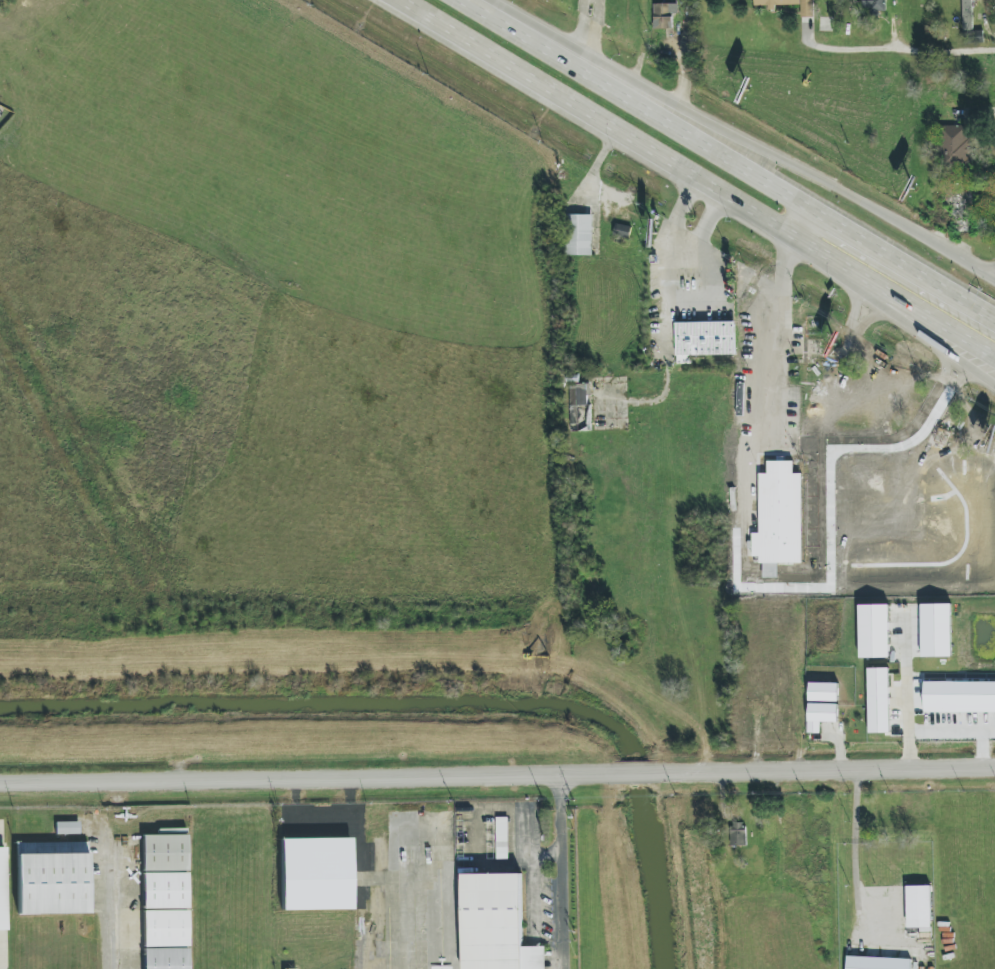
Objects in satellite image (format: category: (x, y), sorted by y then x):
building: (790, 5)
building: (875, 5)
building: (663, 16)
road: (585, 33)
road: (899, 46)
road: (677, 54)
road: (638, 106)
road: (600, 119)
road: (713, 125)
building: (957, 144)
road: (594, 168)
road: (707, 189)
road: (678, 211)
road: (707, 225)
road: (805, 226)
building: (622, 231)
building: (579, 235)
road: (825, 255)
road: (977, 266)
road: (903, 267)
road: (682, 272)
road: (924, 314)
road: (924, 325)
road: (782, 337)
building: (783, 392)
building: (579, 394)
building: (580, 418)
building: (786, 429)
building: (779, 515)
building: (874, 631)
building: (823, 692)
road: (907, 695)
building: (879, 700)
building: (821, 716)
road: (960, 732)
road: (822, 770)
road: (632, 773)
road: (307, 778)
building: (67, 828)
building: (172, 831)
building: (738, 834)
building: (502, 838)
airport hangar: (164, 852)
building: (164, 852)
road: (561, 872)
airport hangar: (315, 874)
building: (315, 874)
airport hangar: (52, 877)
building: (52, 877)
airport: (310, 887)
airport hangar: (164, 890)
building: (164, 890)
airport apron: (404, 890)
airport hangar: (3, 892)
building: (3, 892)
airport apron: (116, 899)
building: (919, 907)
airport hangar: (496, 924)
building: (496, 924)
airport hangar: (165, 928)
building: (165, 928)
airport apron: (3, 950)
airport hangar: (165, 958)
building: (165, 958)
building: (877, 963)
building: (292, 968)

